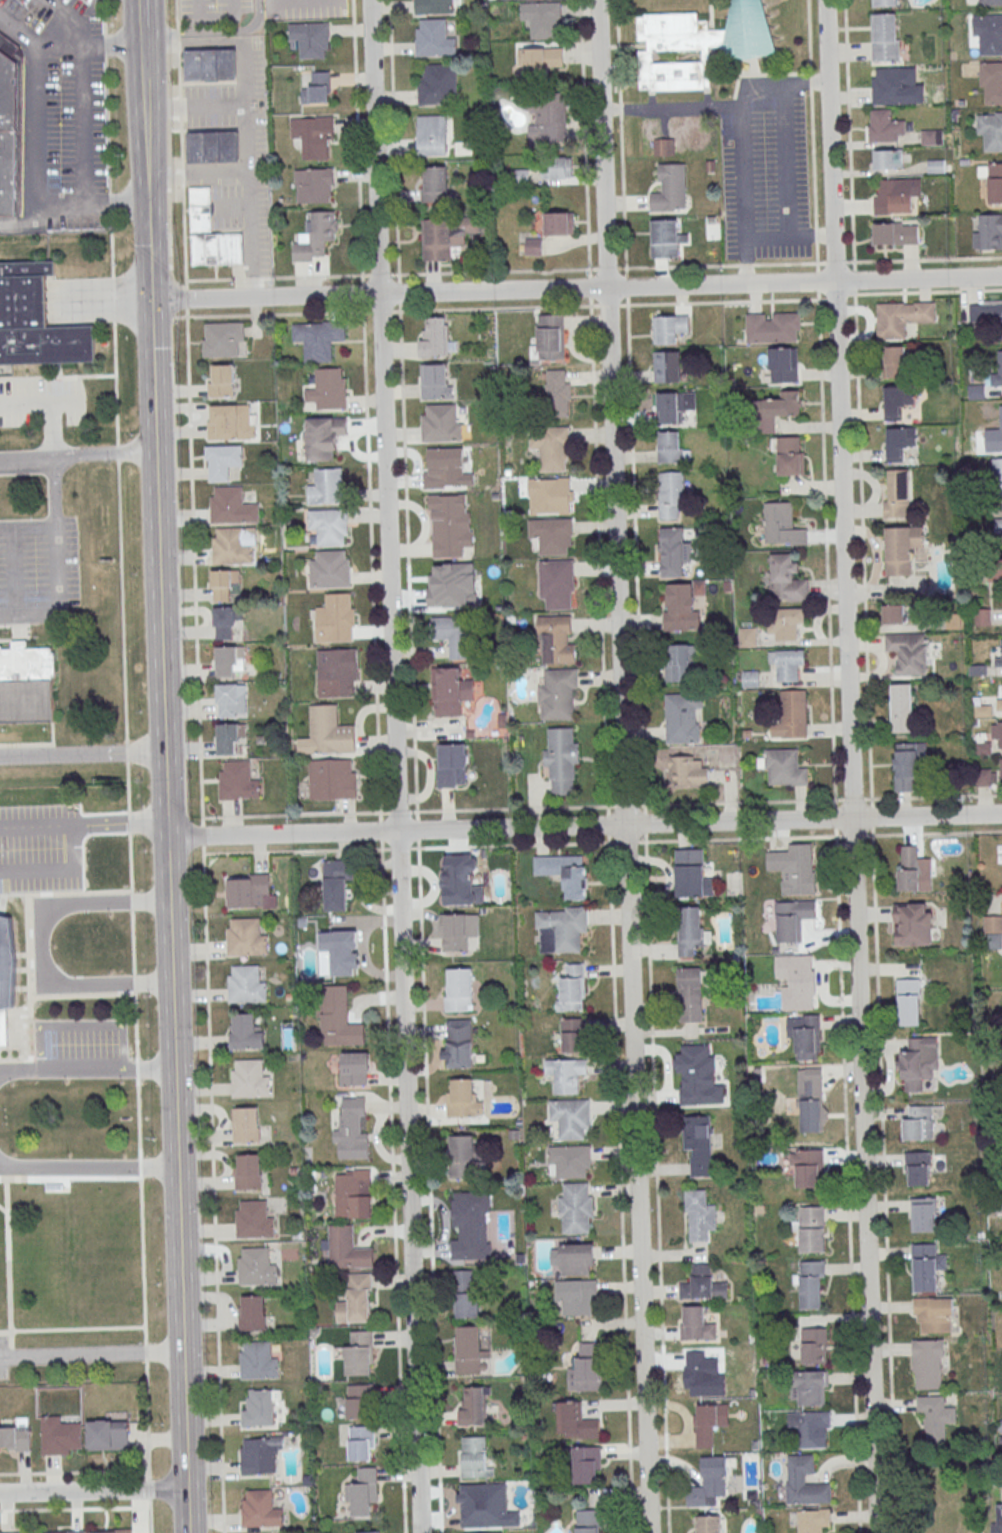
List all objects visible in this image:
road: (305, 2)
building: (884, 2)
building: (990, 2)
building: (434, 7)
parking lot: (314, 9)
parking lot: (211, 12)
road: (142, 13)
road: (176, 14)
road: (65, 19)
building: (543, 19)
road: (217, 20)
road: (231, 32)
road: (160, 33)
building: (988, 33)
building: (885, 37)
building: (311, 39)
building: (433, 39)
building: (698, 43)
road: (112, 44)
road: (58, 46)
road: (178, 48)
road: (144, 55)
building: (540, 59)
building: (211, 65)
road: (178, 77)
building: (991, 81)
building: (438, 85)
building: (890, 86)
building: (315, 88)
road: (197, 104)
road: (671, 106)
road: (180, 108)
building: (550, 114)
road: (249, 119)
road: (82, 124)
building: (885, 125)
building: (9, 129)
building: (990, 130)
building: (432, 136)
building: (932, 136)
building: (314, 137)
road: (740, 140)
road: (181, 144)
building: (664, 146)
building: (214, 147)
building: (888, 158)
road: (36, 160)
building: (557, 168)
parking lot: (765, 170)
road: (198, 173)
road: (182, 179)
building: (992, 179)
road: (787, 181)
building: (435, 184)
building: (313, 186)
building: (670, 188)
building: (893, 195)
road: (23, 222)
building: (559, 224)
building: (989, 231)
building: (895, 232)
road: (810, 234)
building: (211, 235)
building: (315, 236)
building: (446, 237)
building: (666, 238)
road: (183, 245)
building: (533, 247)
road: (699, 265)
road: (576, 288)
road: (185, 298)
building: (985, 310)
building: (901, 316)
building: (34, 320)
building: (773, 327)
building: (669, 328)
building: (433, 338)
building: (548, 338)
building: (223, 339)
building: (319, 339)
building: (894, 361)
building: (783, 364)
building: (667, 365)
building: (998, 367)
building: (221, 380)
building: (436, 381)
building: (329, 389)
building: (977, 391)
building: (557, 393)
road: (822, 398)
road: (858, 398)
road: (37, 399)
building: (897, 399)
road: (630, 401)
building: (789, 402)
road: (592, 405)
building: (669, 407)
road: (153, 417)
building: (231, 422)
building: (440, 423)
building: (767, 423)
road: (51, 428)
building: (998, 429)
building: (323, 438)
building: (899, 441)
building: (978, 446)
building: (671, 447)
building: (551, 448)
building: (789, 454)
road: (76, 455)
building: (223, 459)
building: (445, 469)
building: (997, 469)
building: (327, 487)
road: (54, 491)
building: (897, 492)
building: (548, 494)
building: (670, 494)
building: (232, 506)
park: (57, 519)
building: (782, 524)
building: (998, 524)
road: (27, 525)
building: (329, 525)
building: (450, 525)
building: (551, 535)
building: (231, 547)
building: (901, 548)
building: (673, 551)
road: (193, 566)
building: (1001, 567)
parking lot: (38, 570)
building: (329, 570)
building: (786, 578)
building: (225, 583)
building: (555, 583)
road: (58, 598)
building: (680, 606)
building: (894, 613)
building: (983, 615)
building: (336, 618)
building: (227, 621)
building: (784, 622)
building: (455, 634)
building: (747, 636)
building: (557, 639)
building: (910, 652)
building: (229, 658)
building: (998, 660)
building: (681, 662)
building: (786, 663)
building: (978, 669)
building: (337, 672)
building: (750, 678)
building: (26, 683)
building: (449, 692)
building: (557, 694)
building: (232, 699)
building: (999, 704)
building: (901, 707)
building: (983, 710)
building: (794, 712)
building: (682, 716)
building: (330, 731)
building: (996, 732)
road: (126, 735)
building: (231, 736)
building: (982, 747)
road: (81, 754)
building: (561, 759)
building: (907, 764)
road: (378, 766)
road: (393, 766)
road: (413, 766)
building: (451, 766)
road: (622, 766)
building: (785, 766)
road: (849, 766)
building: (1001, 769)
building: (687, 770)
building: (332, 779)
building: (238, 781)
road: (163, 787)
road: (933, 795)
road: (852, 797)
road: (738, 800)
road: (870, 800)
road: (833, 801)
road: (624, 804)
road: (643, 807)
road: (406, 812)
road: (870, 815)
road: (926, 815)
road: (833, 816)
road: (606, 823)
road: (643, 823)
road: (82, 824)
road: (624, 825)
road: (164, 830)
road: (933, 831)
road: (201, 834)
road: (280, 834)
road: (853, 834)
road: (521, 844)
road: (165, 867)
building: (908, 867)
building: (794, 868)
road: (58, 869)
building: (690, 872)
building: (564, 873)
building: (456, 881)
building: (336, 886)
building: (249, 891)
building: (792, 919)
building: (913, 923)
building: (560, 929)
building: (691, 930)
building: (457, 931)
building: (992, 931)
building: (245, 938)
road: (167, 941)
road: (37, 946)
building: (336, 953)
building: (4, 974)
building: (797, 980)
building: (246, 985)
building: (571, 987)
building: (457, 990)
building: (689, 994)
building: (908, 1001)
building: (338, 1019)
road: (170, 1027)
building: (245, 1032)
building: (808, 1036)
building: (572, 1038)
building: (457, 1044)
building: (919, 1064)
building: (353, 1069)
road: (86, 1071)
building: (691, 1071)
building: (567, 1076)
building: (250, 1079)
building: (462, 1099)
building: (812, 1099)
building: (571, 1118)
building: (921, 1121)
building: (245, 1125)
building: (351, 1131)
building: (698, 1143)
building: (462, 1156)
building: (570, 1161)
road: (87, 1165)
building: (808, 1167)
building: (918, 1167)
building: (247, 1171)
road: (882, 1180)
road: (846, 1181)
road: (655, 1184)
road: (618, 1185)
road: (211, 1189)
building: (362, 1194)
building: (575, 1208)
building: (923, 1214)
building: (699, 1215)
building: (254, 1220)
building: (469, 1223)
building: (812, 1228)
building: (347, 1249)
building: (576, 1259)
building: (926, 1266)
building: (256, 1267)
road: (179, 1279)
building: (463, 1280)
building: (703, 1283)
building: (812, 1284)
building: (575, 1297)
building: (356, 1300)
building: (466, 1306)
building: (251, 1313)
building: (934, 1314)
building: (695, 1323)
building: (814, 1344)
building: (469, 1351)
road: (90, 1354)
building: (358, 1354)
building: (258, 1361)
building: (927, 1363)
building: (585, 1369)
building: (702, 1376)
building: (812, 1387)
building: (358, 1401)
building: (473, 1406)
building: (258, 1409)
building: (935, 1412)
building: (575, 1422)
building: (706, 1425)
building: (812, 1427)
building: (108, 1435)
building: (60, 1436)
building: (16, 1437)
building: (361, 1443)
building: (258, 1458)
building: (475, 1458)
building: (587, 1465)
building: (805, 1480)
building: (710, 1482)
road: (150, 1489)
road: (94, 1490)
building: (363, 1493)
road: (188, 1510)
building: (260, 1510)
building: (489, 1510)
building: (813, 1520)
building: (587, 1521)
building: (997, 1521)
building: (709, 1523)
building: (120, 1531)
building: (17, 1532)
building: (71, 1532)
building: (368, 1532)

